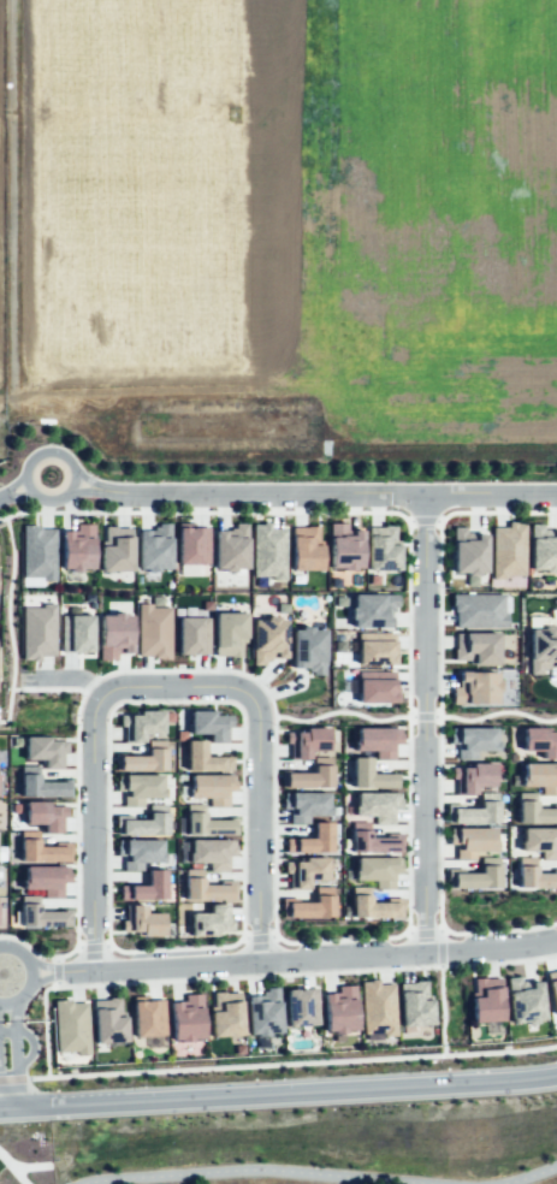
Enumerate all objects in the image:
road: (30, 456)
road: (83, 479)
road: (11, 485)
road: (79, 491)
road: (13, 492)
road: (325, 496)
road: (205, 510)
road: (496, 511)
road: (409, 520)
road: (423, 520)
road: (438, 521)
building: (191, 545)
building: (343, 546)
building: (76, 547)
building: (114, 547)
building: (153, 547)
building: (230, 547)
building: (304, 547)
building: (381, 547)
building: (543, 549)
building: (508, 550)
building: (267, 551)
building: (36, 552)
building: (467, 553)
building: (371, 609)
building: (479, 610)
road: (7, 621)
building: (36, 631)
building: (152, 631)
building: (75, 633)
building: (227, 633)
building: (113, 634)
building: (191, 635)
building: (267, 638)
building: (475, 647)
building: (307, 649)
building: (375, 649)
building: (541, 649)
road: (168, 669)
road: (72, 677)
building: (374, 686)
building: (474, 687)
road: (47, 688)
road: (170, 699)
road: (342, 711)
road: (494, 712)
road: (422, 716)
building: (138, 724)
building: (209, 724)
road: (425, 724)
road: (439, 724)
road: (408, 726)
building: (377, 740)
building: (472, 740)
building: (304, 741)
building: (540, 741)
building: (43, 750)
building: (143, 758)
building: (205, 758)
road: (93, 760)
building: (309, 775)
building: (369, 775)
building: (472, 776)
building: (540, 776)
building: (40, 786)
building: (138, 787)
building: (211, 787)
building: (304, 805)
building: (377, 805)
building: (533, 810)
building: (45, 815)
road: (256, 821)
building: (143, 822)
building: (206, 822)
building: (312, 840)
building: (371, 840)
building: (470, 840)
building: (539, 841)
building: (40, 848)
building: (137, 852)
building: (211, 852)
building: (377, 869)
building: (306, 871)
building: (475, 875)
building: (533, 875)
building: (46, 878)
building: (146, 887)
building: (202, 887)
building: (309, 905)
building: (372, 905)
building: (38, 913)
building: (141, 920)
building: (211, 920)
road: (440, 929)
road: (499, 930)
road: (408, 933)
road: (423, 933)
road: (257, 936)
road: (337, 939)
road: (93, 947)
road: (174, 947)
road: (438, 948)
road: (491, 948)
road: (38, 952)
road: (57, 958)
road: (241, 963)
road: (43, 967)
road: (57, 971)
road: (30, 973)
road: (284, 973)
road: (43, 977)
road: (57, 983)
building: (552, 988)
building: (485, 999)
building: (523, 1000)
building: (414, 1002)
road: (442, 1004)
building: (300, 1006)
building: (377, 1007)
building: (339, 1010)
building: (262, 1012)
road: (11, 1013)
building: (225, 1013)
building: (147, 1017)
building: (185, 1017)
building: (107, 1019)
building: (70, 1026)
road: (29, 1038)
road: (46, 1049)
road: (442, 1049)
road: (16, 1065)
road: (235, 1067)
road: (12, 1079)
road: (278, 1094)
road: (4, 1097)
park: (23, 1154)
road: (13, 1167)
road: (31, 1167)
road: (260, 1168)
road: (528, 1176)

